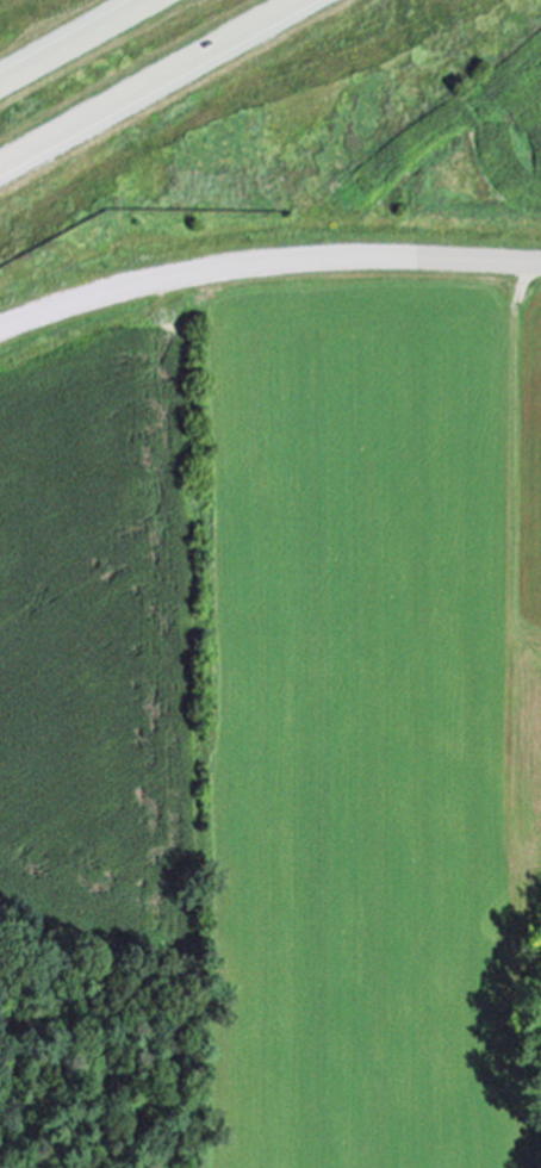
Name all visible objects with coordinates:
road: (80, 43)
road: (158, 87)
road: (266, 261)

